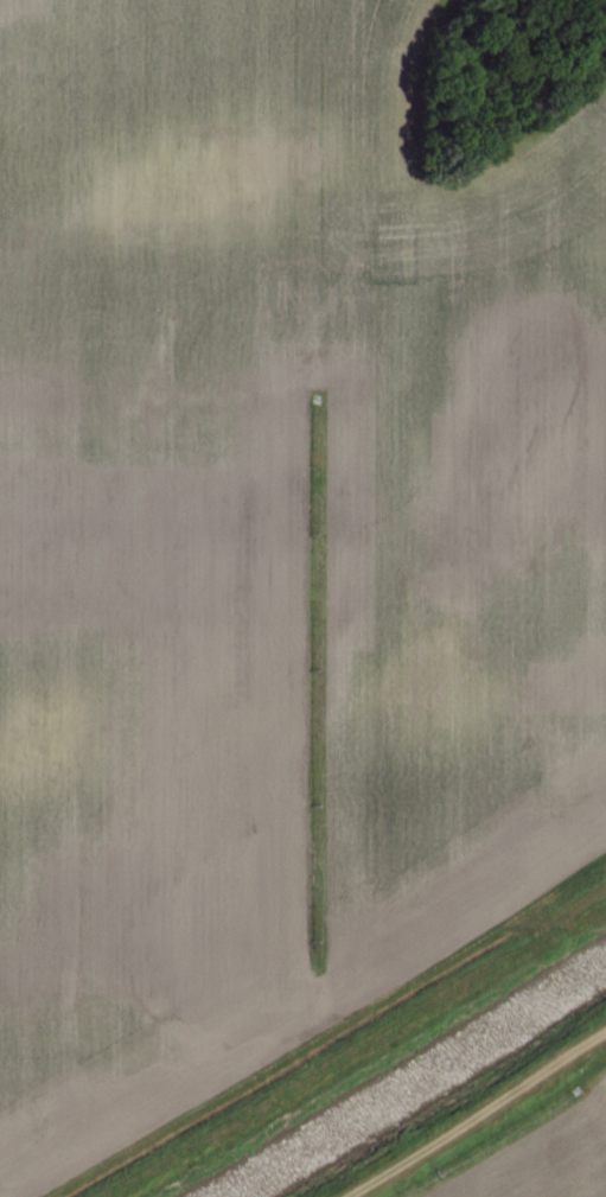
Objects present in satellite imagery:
road: (338, 1031)

